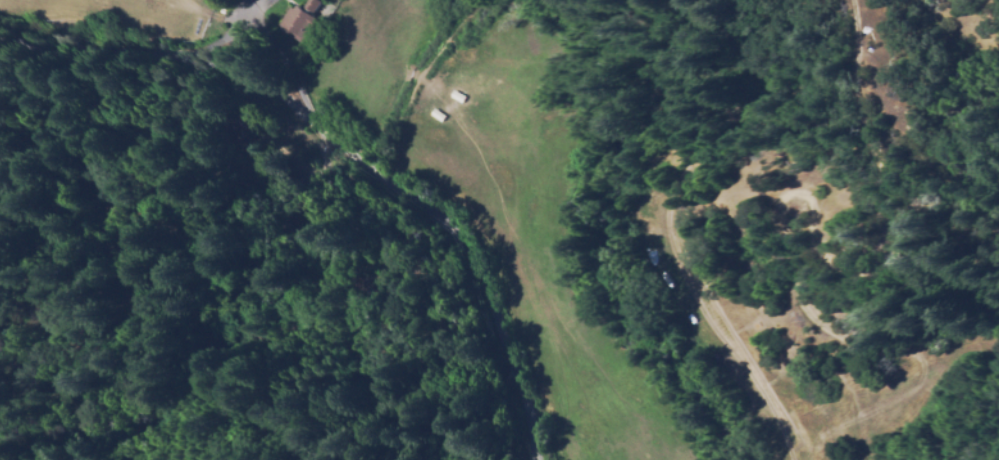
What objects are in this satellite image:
building: (301, 22)
building: (225, 129)
road: (344, 151)

